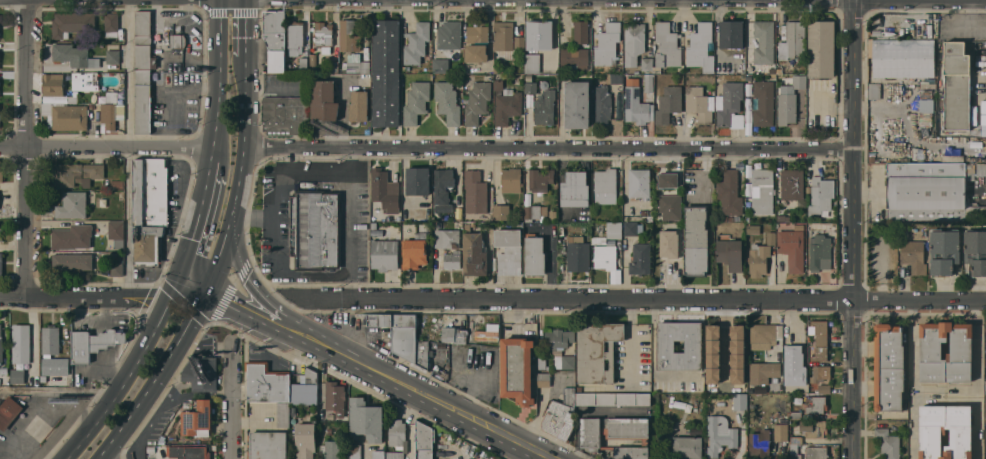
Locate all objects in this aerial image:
traffic signals: (219, 14)
traffic signals: (247, 15)
building: (72, 23)
building: (111, 24)
building: (581, 31)
building: (323, 33)
building: (478, 34)
building: (540, 34)
building: (731, 34)
building: (449, 35)
building: (504, 35)
road: (246, 36)
building: (349, 36)
building: (295, 37)
building: (276, 39)
building: (178, 40)
building: (793, 40)
building: (764, 41)
building: (634, 42)
building: (144, 43)
building: (417, 43)
building: (519, 43)
building: (606, 43)
building: (699, 43)
building: (667, 45)
building: (822, 48)
building: (74, 55)
building: (474, 55)
building: (113, 56)
building: (575, 57)
building: (902, 57)
building: (312, 60)
building: (304, 63)
building: (533, 63)
building: (647, 63)
building: (356, 64)
building: (441, 65)
building: (334, 66)
building: (500, 69)
building: (779, 70)
road: (219, 72)
building: (386, 72)
road: (127, 73)
building: (529, 77)
building: (719, 77)
building: (616, 79)
building: (85, 81)
building: (799, 81)
building: (498, 82)
building: (53, 83)
building: (649, 83)
building: (531, 86)
building: (956, 86)
building: (874, 90)
building: (109, 96)
building: (73, 97)
building: (324, 99)
building: (416, 101)
building: (448, 101)
building: (477, 101)
building: (143, 102)
building: (635, 103)
building: (669, 103)
building: (764, 103)
building: (578, 104)
building: (699, 104)
building: (730, 105)
building: (92, 106)
building: (359, 106)
building: (507, 106)
building: (602, 106)
building: (545, 107)
building: (787, 108)
building: (285, 114)
building: (66, 116)
building: (111, 116)
building: (872, 126)
road: (244, 134)
building: (872, 140)
road: (14, 145)
road: (122, 146)
road: (549, 147)
road: (27, 149)
building: (953, 158)
road: (289, 160)
building: (981, 169)
building: (970, 171)
building: (1, 173)
road: (704, 173)
building: (78, 174)
building: (668, 179)
building: (511, 180)
building: (541, 180)
building: (418, 181)
building: (639, 183)
building: (792, 183)
building: (117, 184)
building: (606, 186)
building: (443, 189)
building: (575, 189)
building: (385, 190)
building: (763, 191)
building: (475, 192)
building: (929, 192)
building: (150, 193)
building: (729, 193)
building: (819, 198)
building: (73, 204)
building: (670, 206)
road: (352, 210)
building: (502, 212)
building: (535, 212)
road: (253, 216)
building: (783, 217)
building: (725, 218)
building: (748, 218)
building: (732, 219)
road: (127, 222)
road: (195, 223)
road: (276, 223)
building: (374, 225)
building: (437, 225)
building: (467, 227)
building: (633, 228)
building: (315, 229)
building: (753, 229)
road: (854, 229)
building: (117, 233)
building: (609, 233)
building: (72, 236)
building: (1, 237)
building: (447, 238)
building: (771, 238)
building: (697, 240)
building: (148, 243)
building: (670, 243)
road: (222, 245)
building: (792, 248)
building: (976, 250)
building: (415, 251)
building: (509, 251)
building: (944, 251)
building: (820, 252)
building: (730, 253)
building: (385, 254)
building: (475, 254)
building: (535, 254)
building: (914, 255)
building: (578, 256)
building: (605, 256)
building: (641, 259)
building: (759, 259)
building: (453, 260)
building: (72, 261)
building: (1, 265)
building: (117, 268)
road: (552, 268)
road: (256, 286)
road: (352, 287)
traffic signals: (206, 293)
road: (186, 296)
road: (83, 298)
traffic signals: (167, 299)
road: (641, 302)
road: (266, 319)
building: (493, 326)
building: (445, 333)
building: (456, 334)
building: (765, 335)
building: (405, 338)
building: (821, 340)
building: (93, 343)
road: (633, 343)
building: (734, 343)
building: (21, 344)
building: (985, 344)
building: (1, 346)
building: (666, 346)
building: (561, 347)
building: (597, 351)
building: (52, 352)
building: (708, 352)
building: (959, 355)
building: (543, 363)
building: (795, 365)
building: (889, 367)
building: (517, 369)
building: (763, 372)
building: (201, 373)
building: (820, 373)
building: (18, 376)
building: (55, 377)
road: (156, 378)
building: (713, 378)
building: (544, 379)
building: (311, 380)
road: (123, 382)
building: (267, 382)
road: (947, 387)
building: (824, 388)
road: (59, 391)
building: (336, 397)
road: (234, 399)
building: (614, 399)
road: (946, 400)
road: (438, 401)
building: (740, 401)
building: (817, 405)
building: (9, 411)
building: (283, 415)
building: (561, 415)
building: (797, 415)
building: (330, 416)
building: (198, 418)
building: (366, 420)
building: (814, 428)
building: (781, 430)
building: (330, 431)
building: (933, 431)
building: (960, 431)
building: (616, 435)
building: (720, 435)
building: (397, 439)
building: (306, 440)
building: (425, 440)
building: (760, 443)
building: (889, 443)
building: (268, 445)
building: (687, 447)
building: (795, 447)
building: (331, 449)
building: (355, 451)
building: (191, 452)
building: (483, 452)
building: (816, 453)
building: (380, 454)

